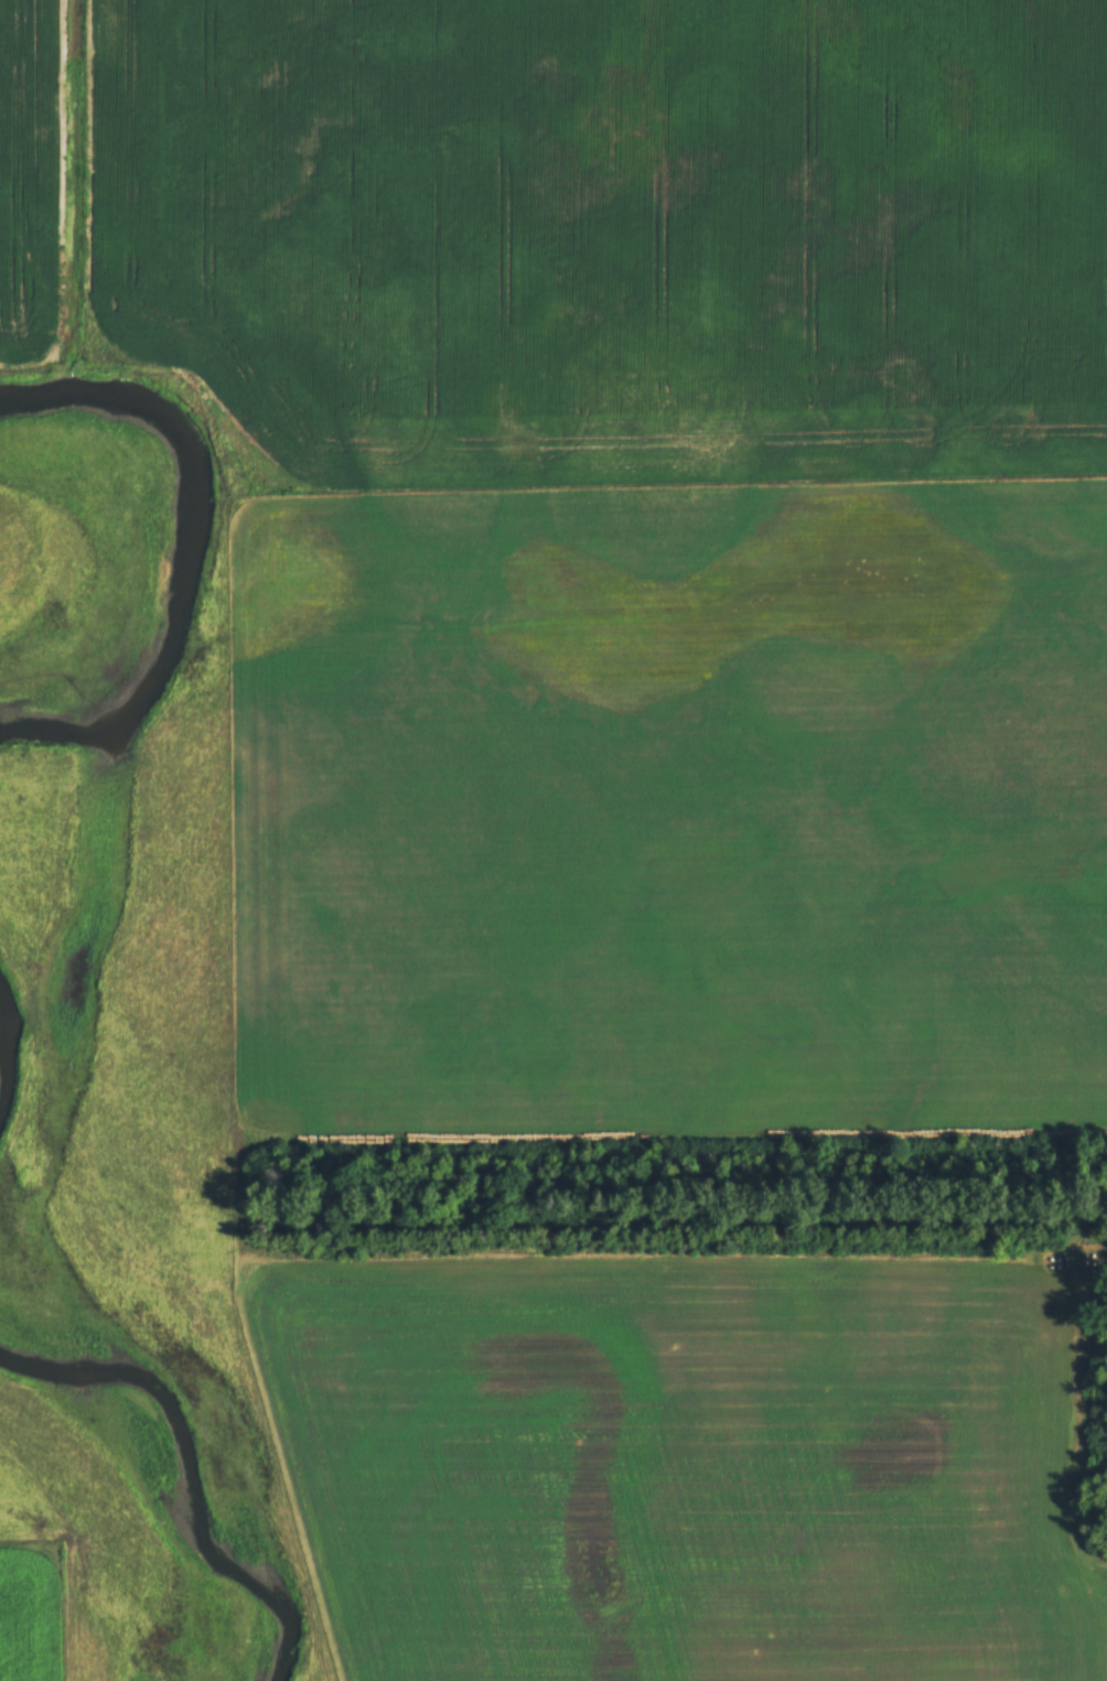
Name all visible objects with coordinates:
river: (172, 548)
river: (25, 1055)
river: (194, 1475)

